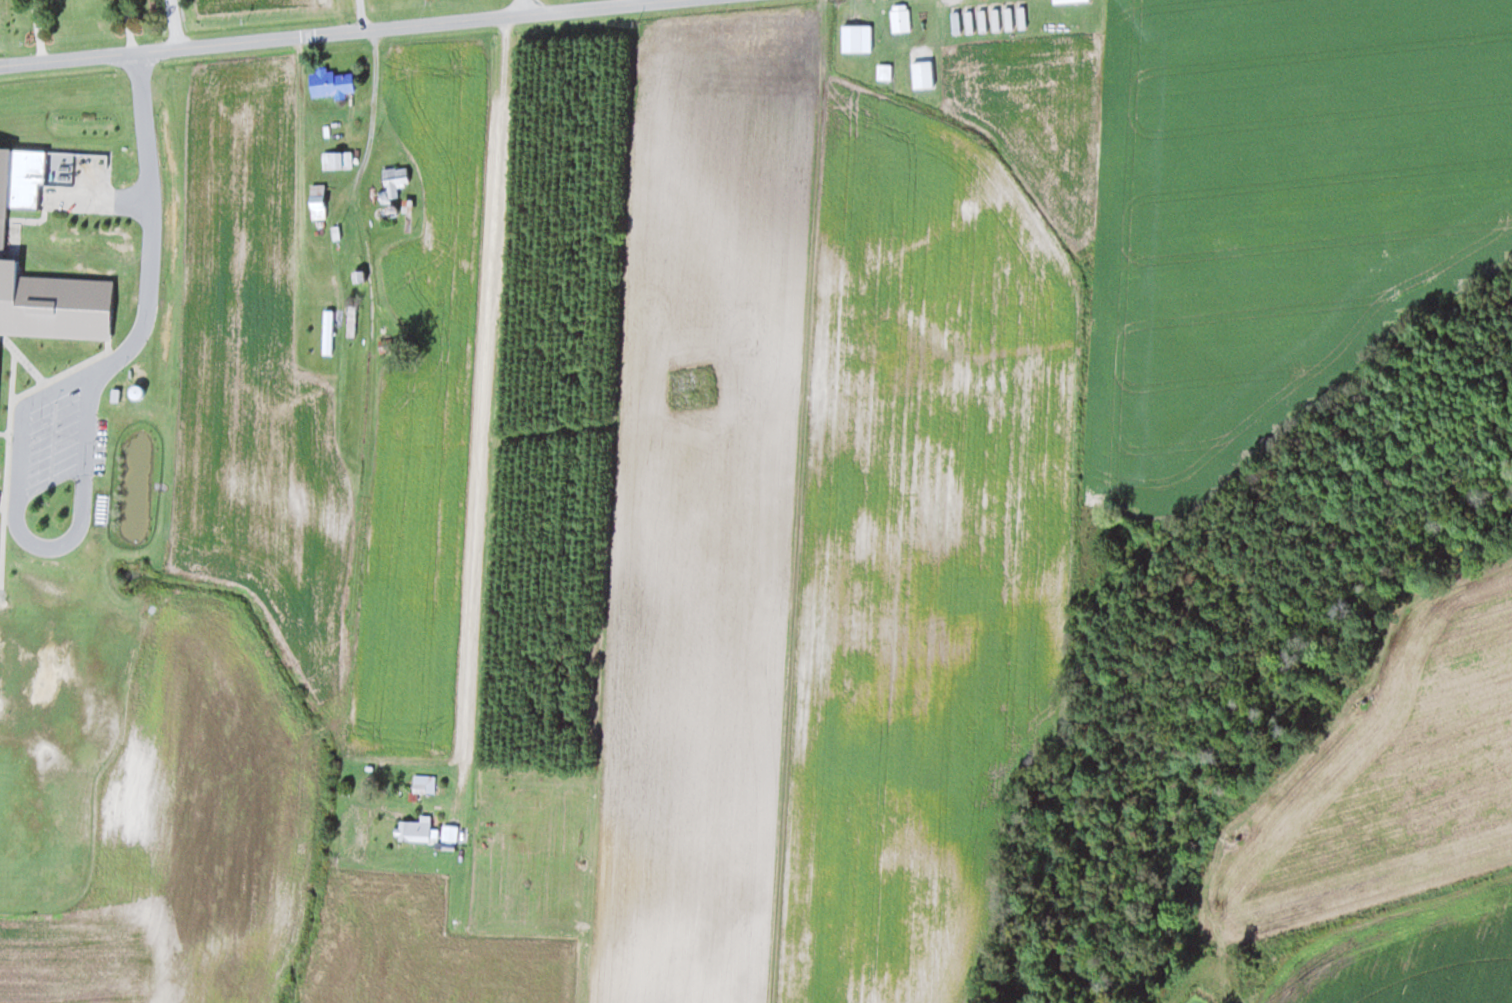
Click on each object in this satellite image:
building: (1069, 0)
road: (528, 6)
building: (1022, 17)
building: (900, 18)
building: (1009, 18)
building: (995, 19)
building: (969, 21)
building: (982, 21)
road: (168, 24)
road: (326, 35)
building: (331, 82)
building: (337, 159)
building: (395, 180)
building: (316, 200)
building: (406, 213)
building: (351, 321)
building: (327, 331)
road: (127, 343)
road: (64, 381)
road: (369, 393)
building: (392, 435)
road: (16, 447)
road: (474, 447)
building: (423, 784)
building: (418, 830)

